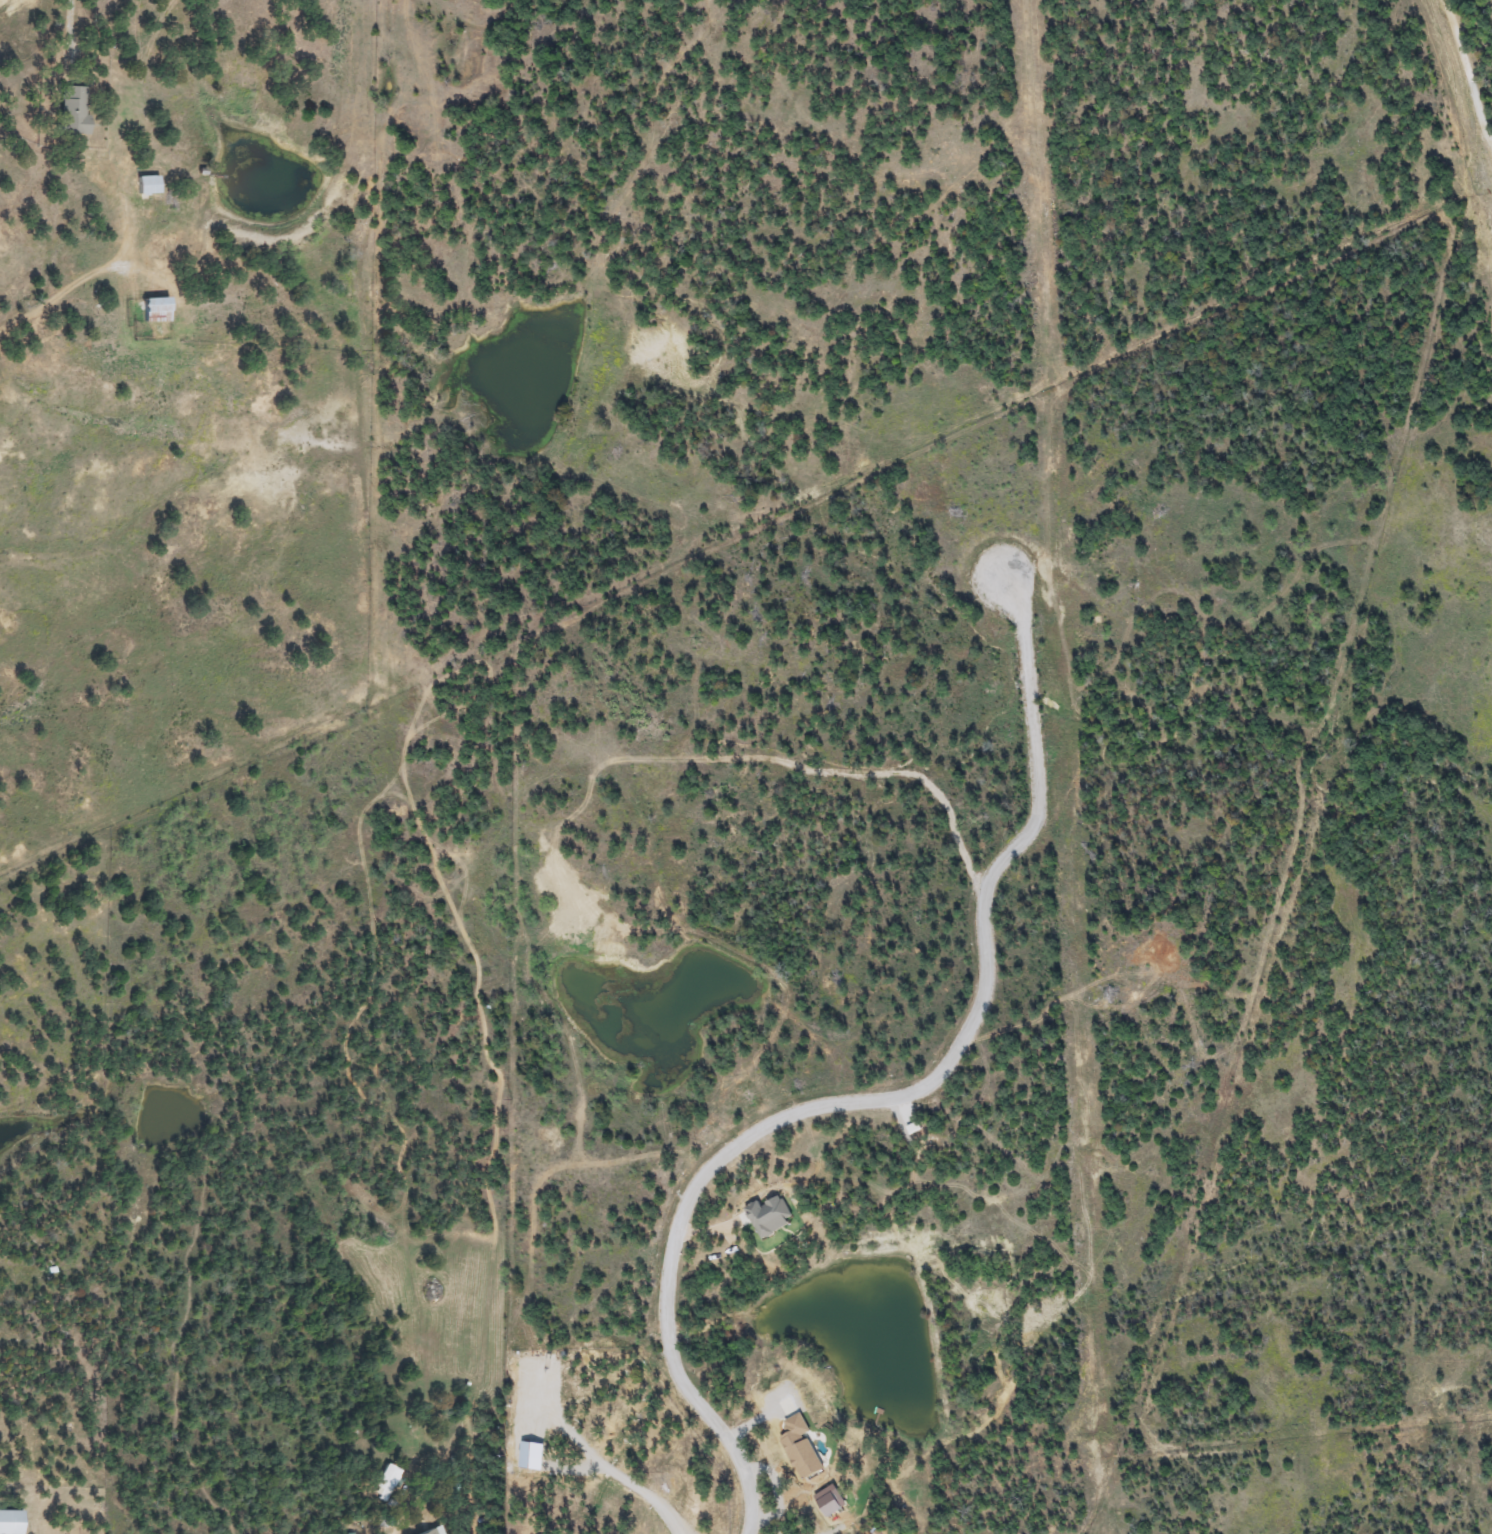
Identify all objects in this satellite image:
road: (73, 6)
building: (71, 110)
building: (145, 185)
building: (153, 310)
road: (849, 1096)
building: (9, 1522)
building: (427, 1532)

